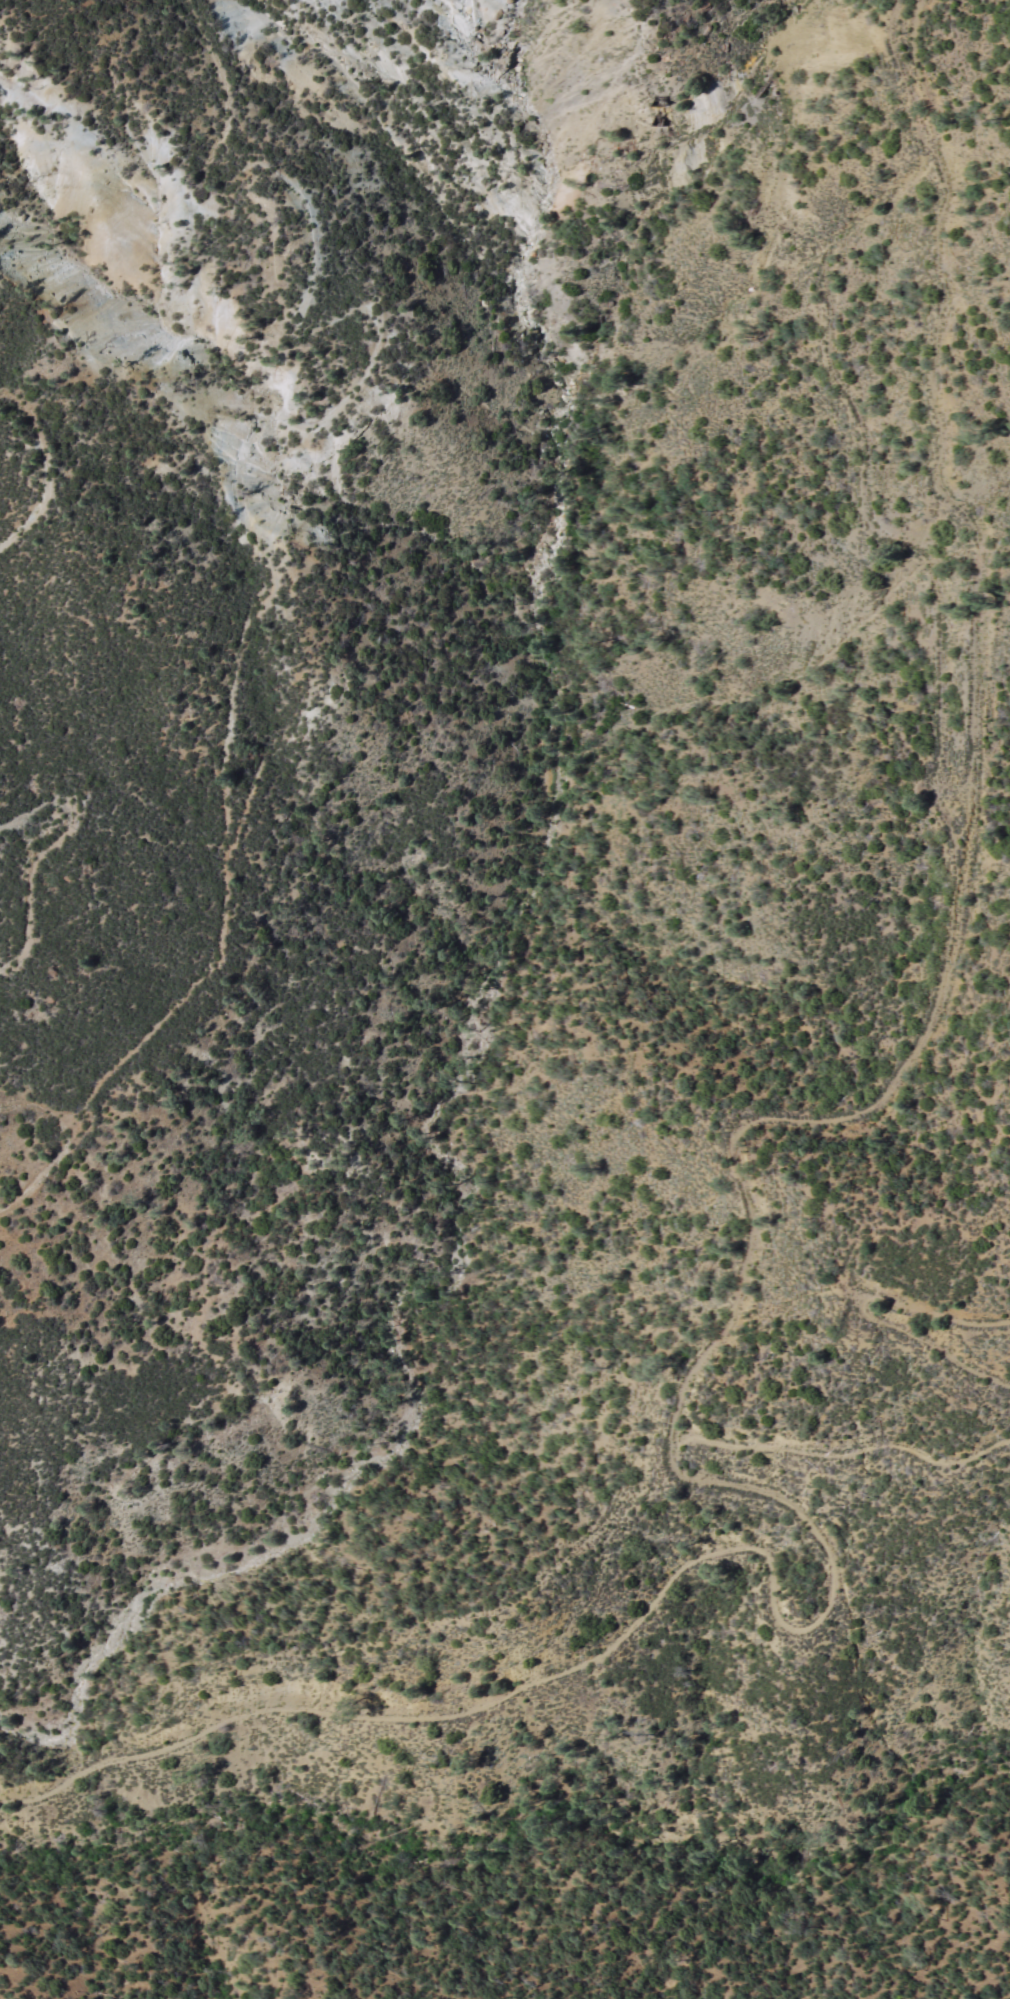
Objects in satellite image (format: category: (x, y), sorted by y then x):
quarry: (433, 286)
road: (861, 1309)
road: (724, 1552)

